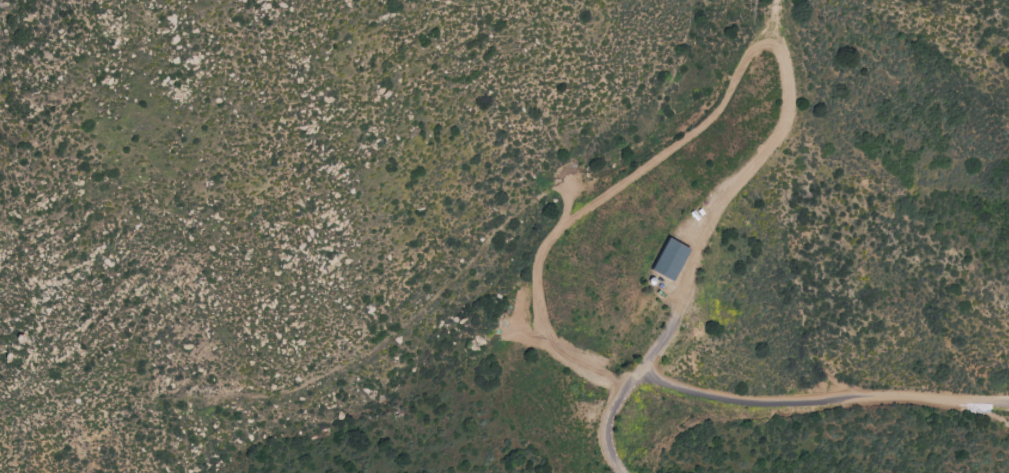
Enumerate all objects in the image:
road: (778, 408)
road: (605, 418)

